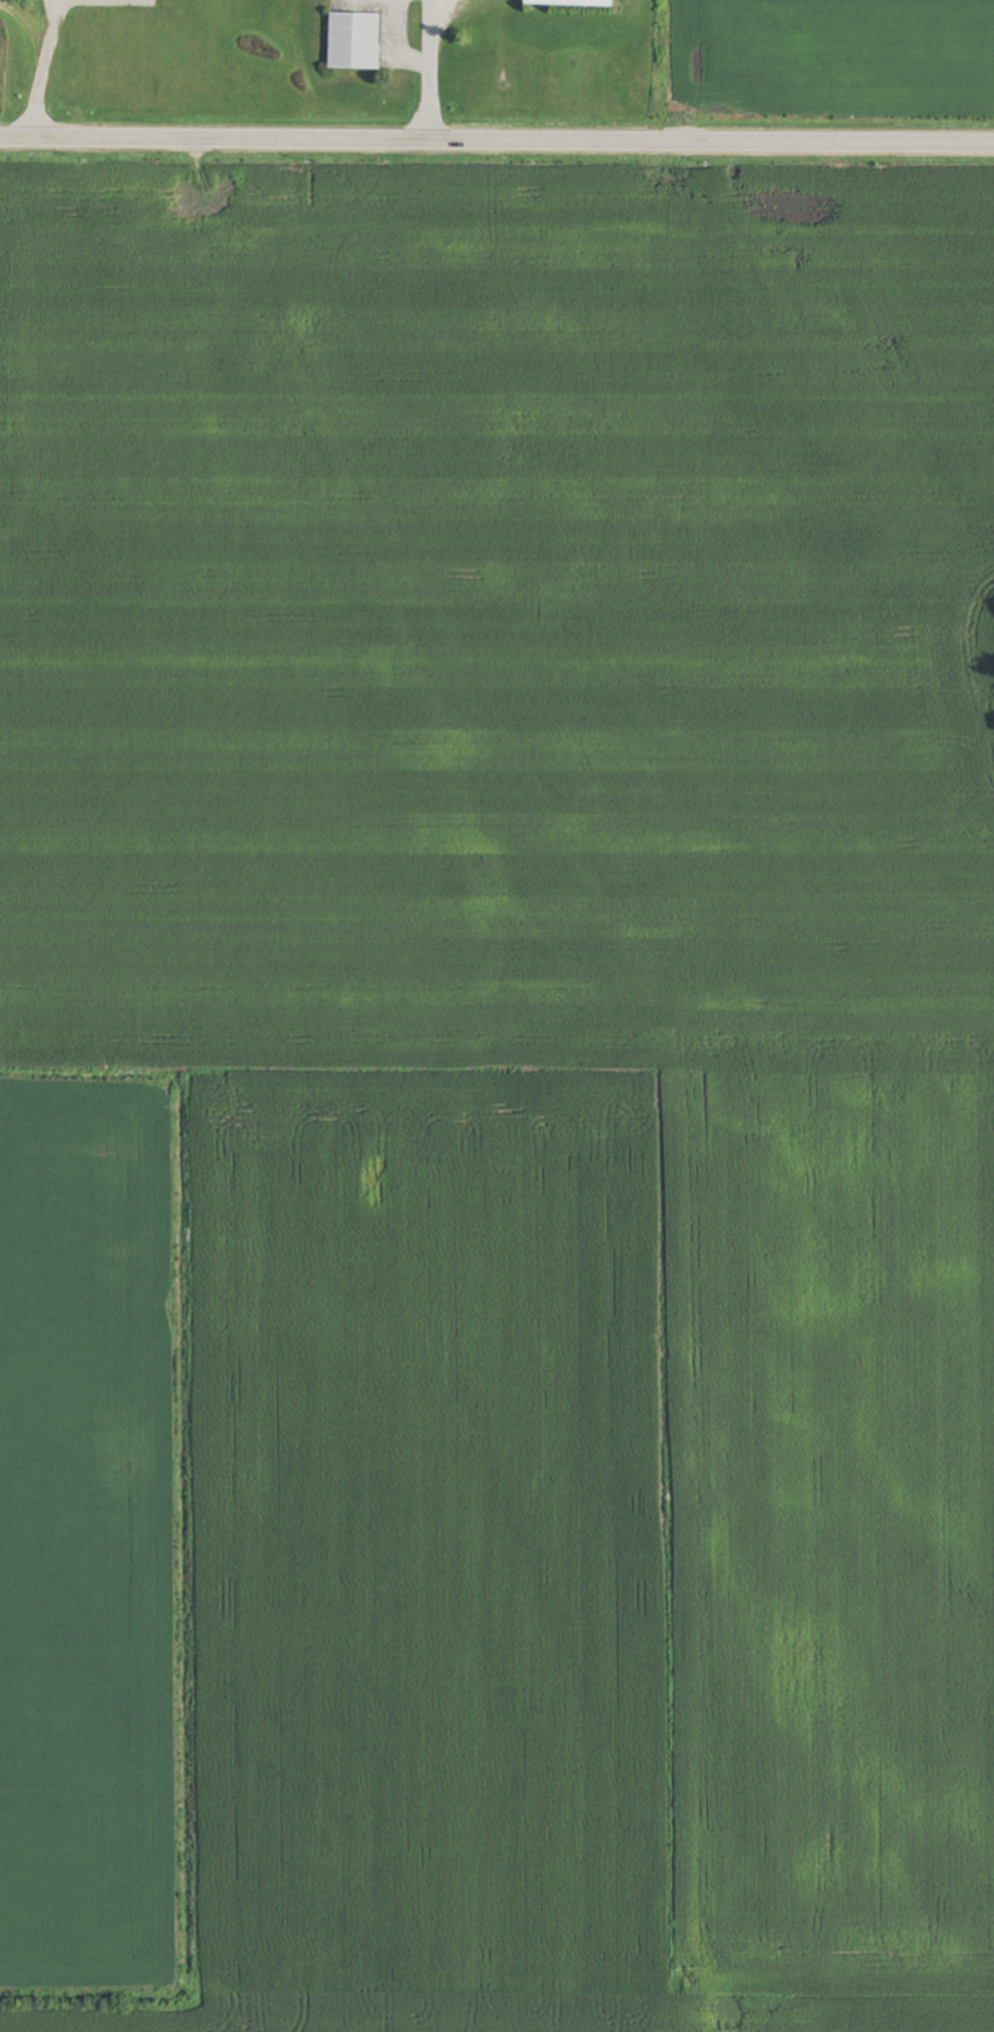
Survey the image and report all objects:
building: (573, 3)
building: (355, 41)
road: (43, 71)
road: (432, 71)
road: (497, 143)

